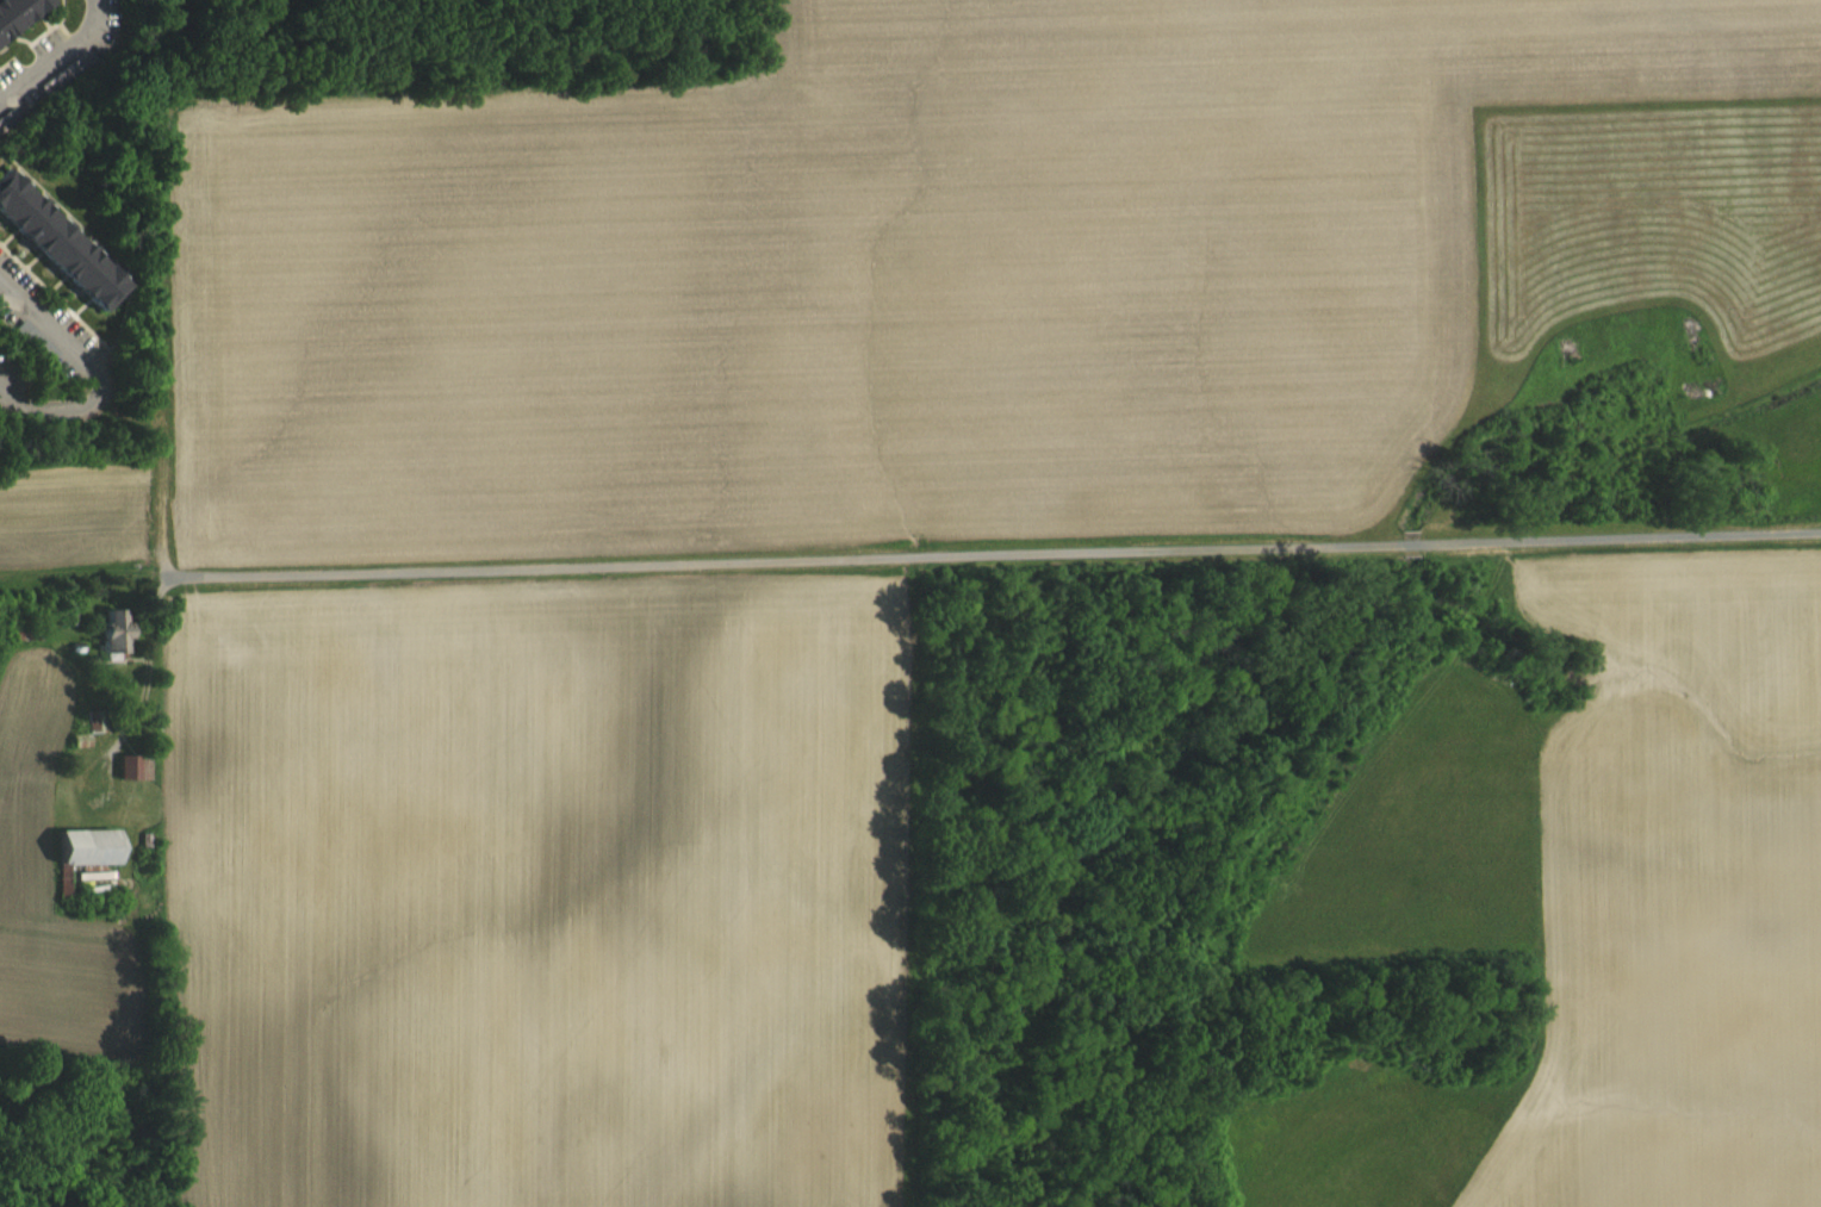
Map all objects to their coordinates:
road: (60, 54)
building: (55, 257)
building: (33, 354)
road: (80, 371)
road: (994, 550)
building: (111, 647)
road: (148, 667)
building: (131, 780)
building: (83, 860)

